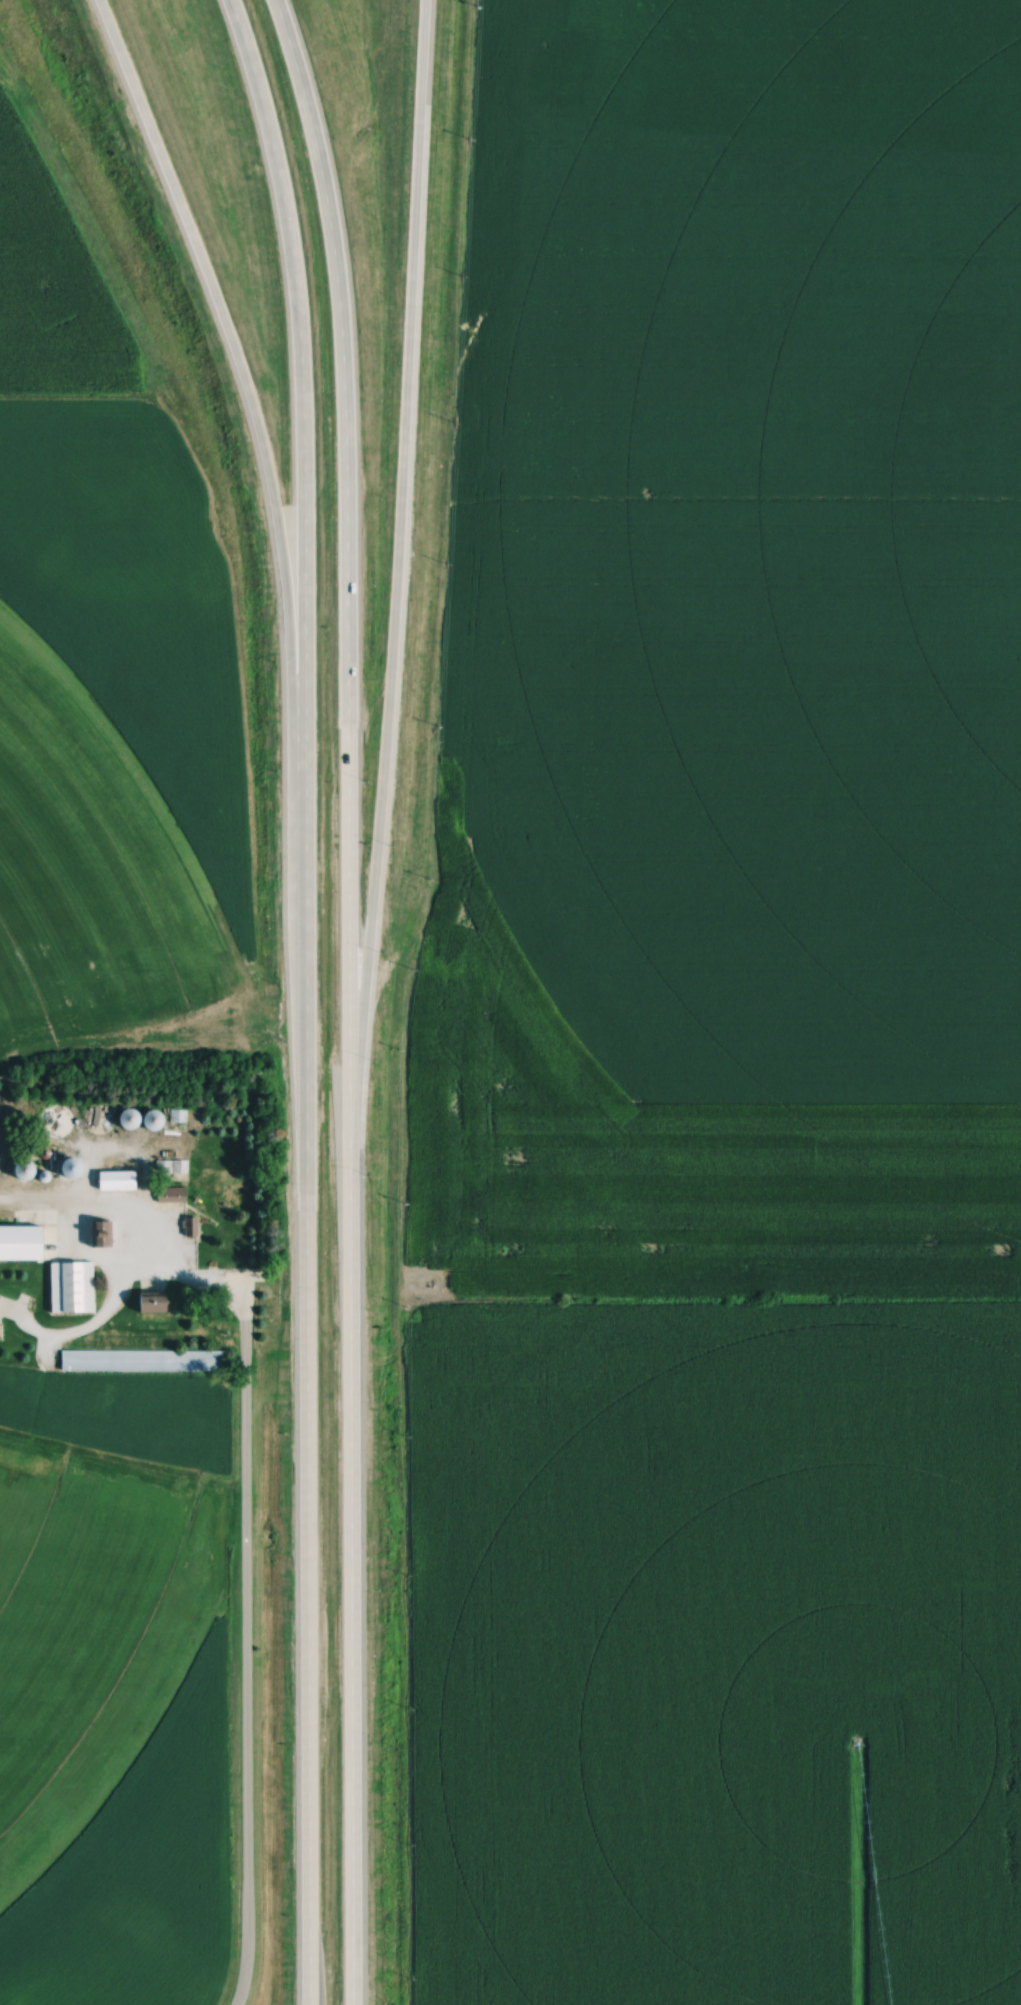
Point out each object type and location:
road: (255, 421)
road: (299, 430)
road: (346, 581)
road: (395, 586)
building: (382, 849)
building: (176, 1116)
building: (132, 1118)
building: (61, 1122)
building: (23, 1171)
building: (118, 1180)
building: (30, 1221)
building: (73, 1288)
building: (138, 1361)
road: (304, 1436)
road: (246, 1587)
road: (349, 1588)
road: (360, 1780)

